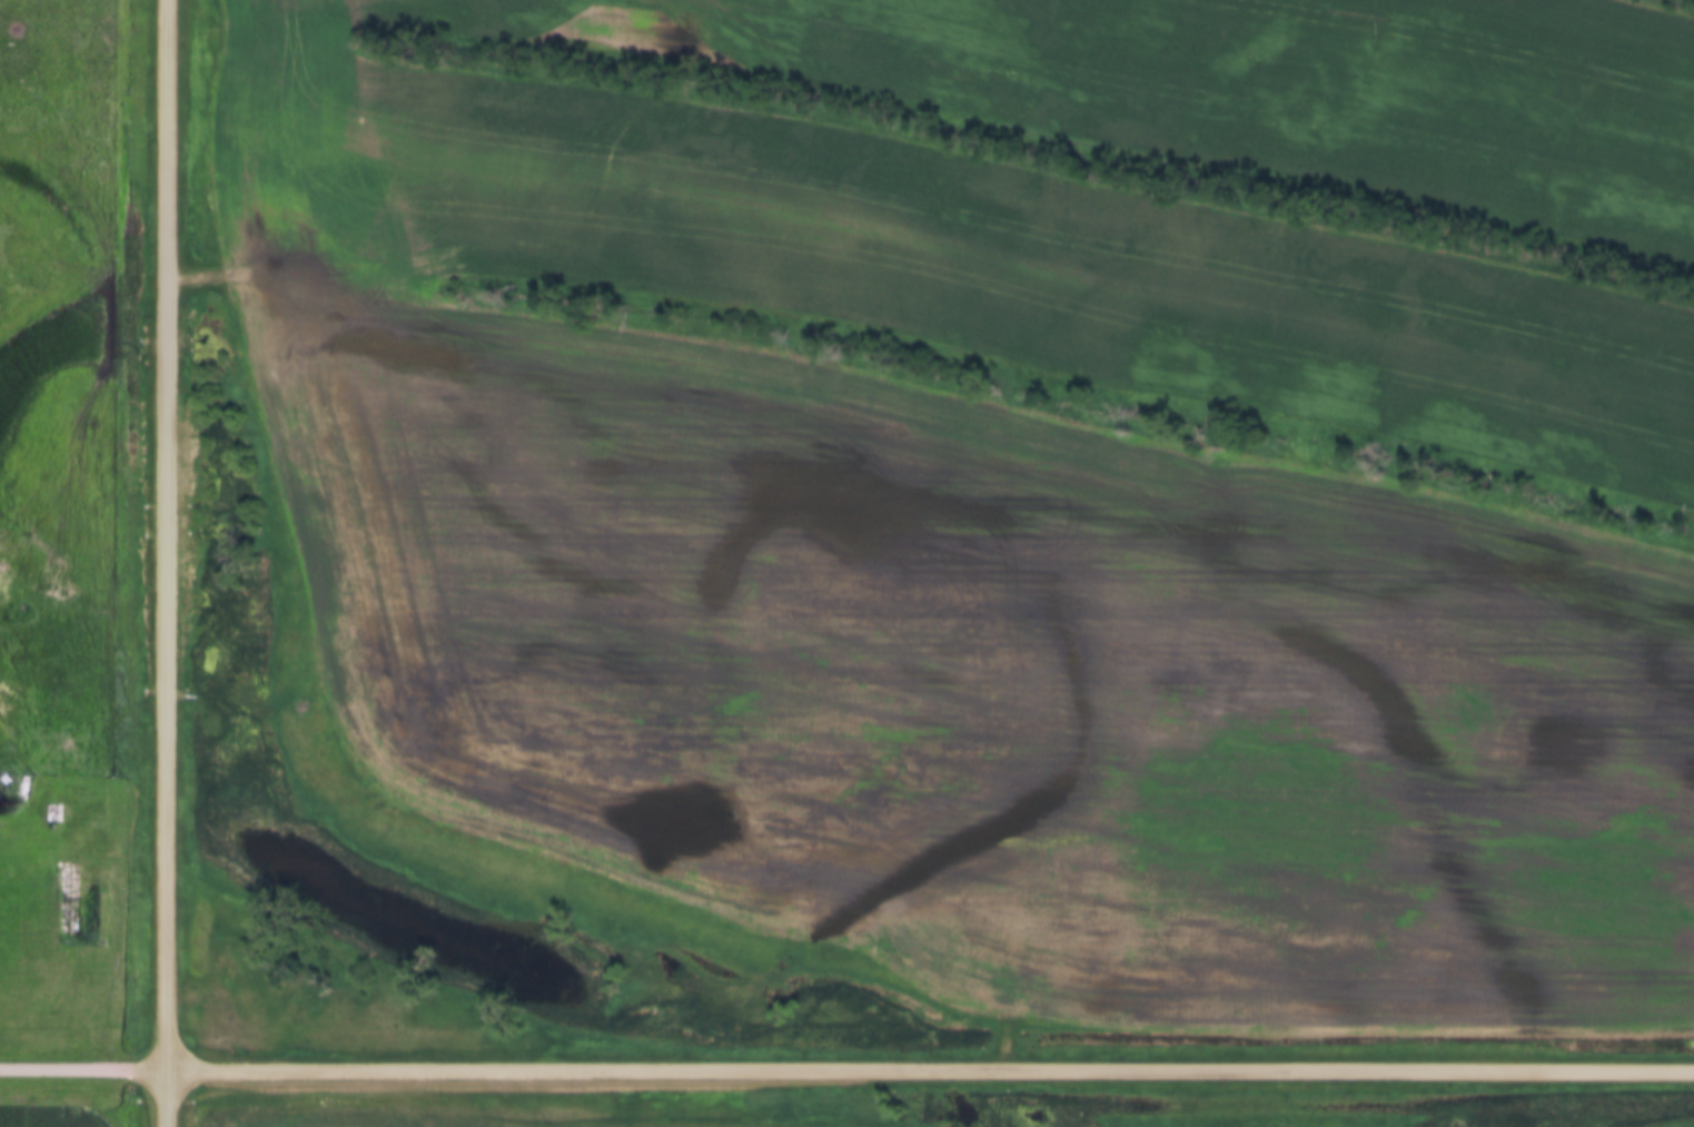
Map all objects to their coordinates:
road: (172, 563)
building: (6, 787)
road: (932, 1060)
road: (86, 1061)

